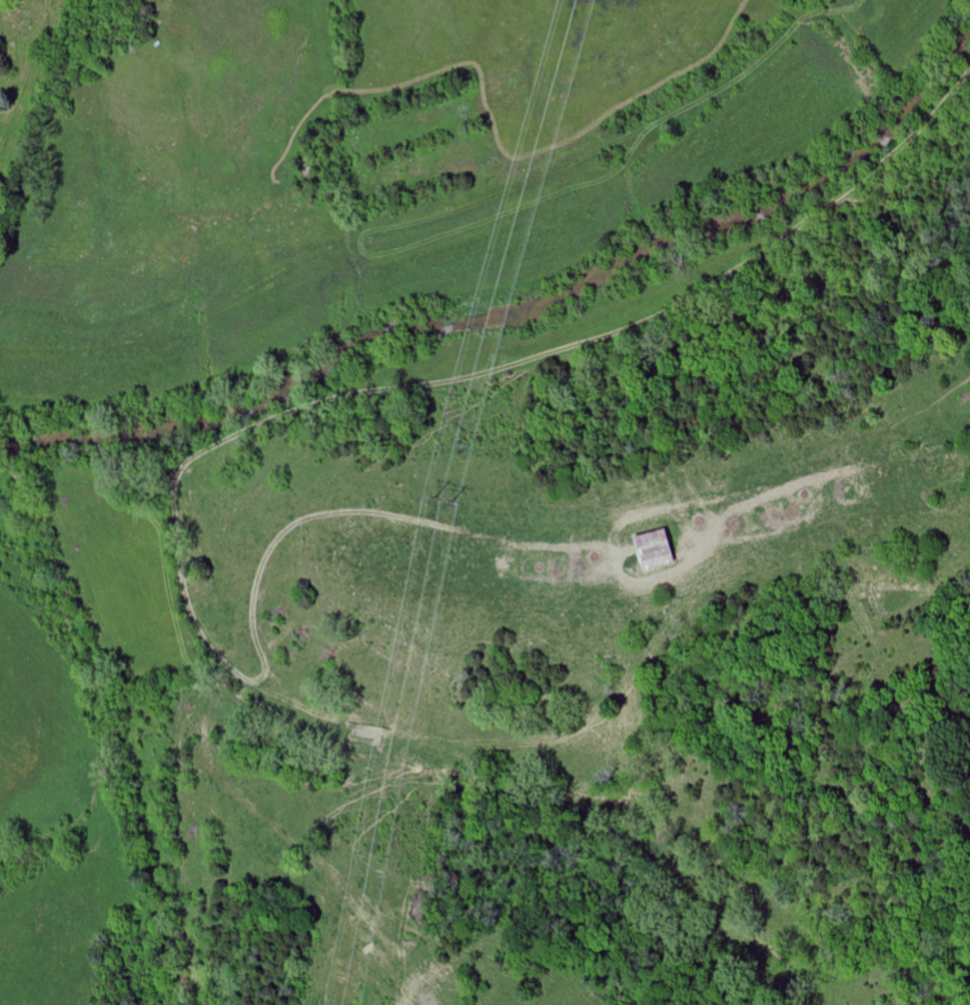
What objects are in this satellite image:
power tower: (443, 501)
building: (656, 549)

